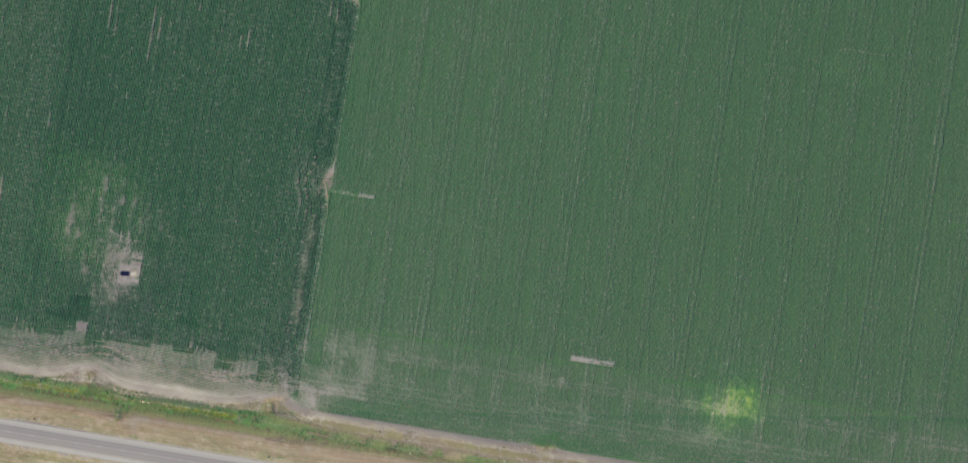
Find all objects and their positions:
building: (925, 17)
building: (913, 106)
road: (103, 446)
road: (193, 462)

